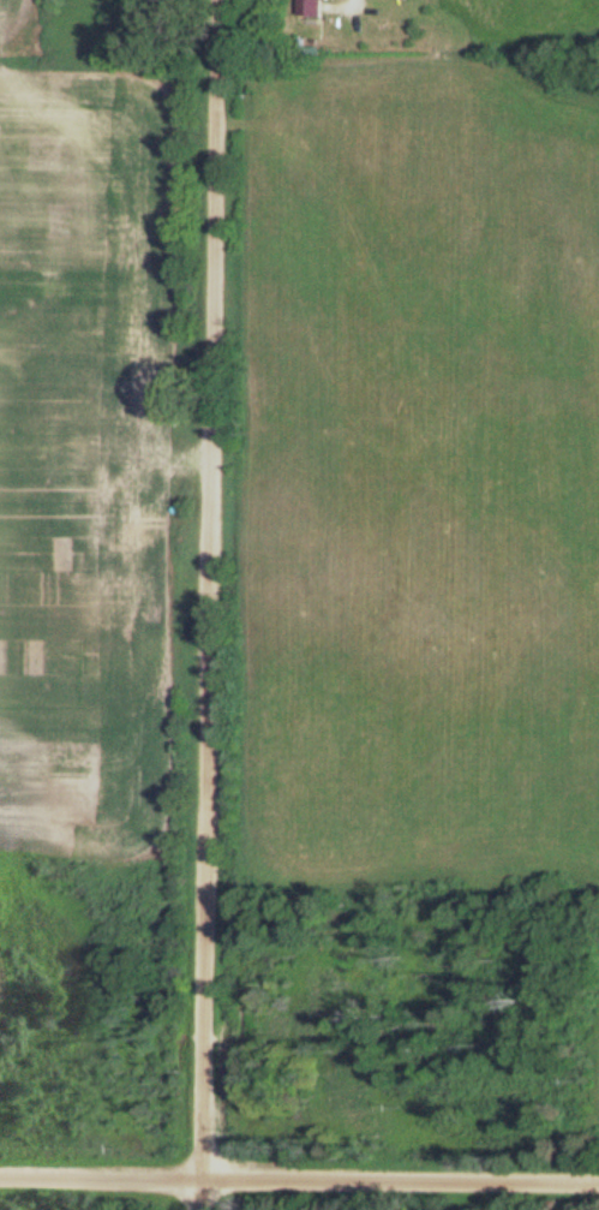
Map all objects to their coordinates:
building: (312, 7)
road: (208, 604)
road: (299, 1179)

